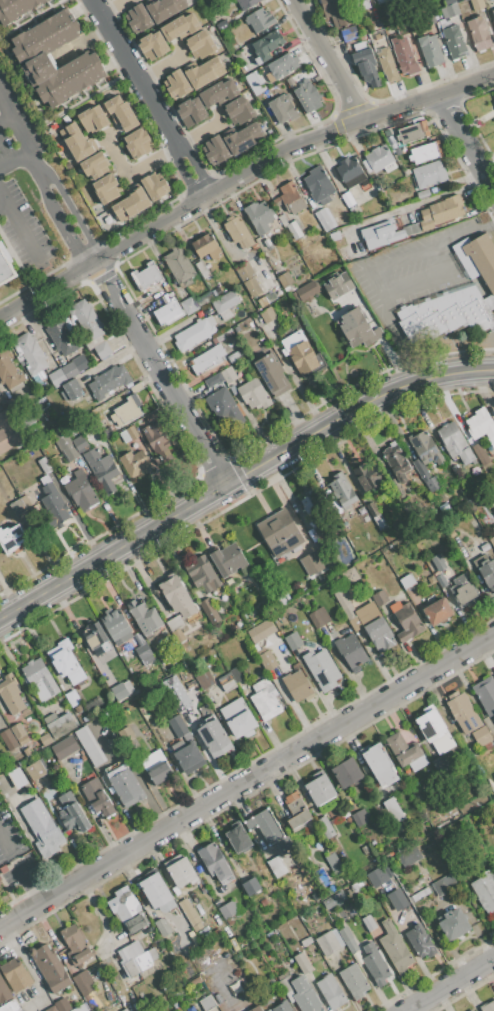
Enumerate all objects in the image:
building: (460, 0)
building: (380, 1)
building: (448, 2)
building: (245, 3)
building: (360, 4)
building: (477, 4)
building: (16, 8)
road: (117, 8)
building: (165, 9)
building: (335, 13)
building: (492, 13)
road: (32, 18)
building: (138, 18)
building: (430, 18)
building: (259, 20)
building: (493, 24)
building: (221, 25)
building: (452, 33)
building: (348, 34)
building: (479, 34)
building: (199, 35)
building: (378, 37)
building: (232, 42)
building: (267, 45)
building: (153, 46)
building: (430, 50)
building: (403, 55)
building: (33, 58)
road: (331, 60)
building: (365, 63)
building: (387, 64)
building: (283, 65)
road: (161, 68)
building: (205, 72)
road: (136, 73)
building: (176, 84)
building: (253, 84)
building: (307, 96)
building: (228, 101)
building: (493, 102)
road: (430, 103)
building: (283, 108)
building: (191, 111)
building: (121, 113)
road: (48, 117)
road: (4, 118)
building: (93, 120)
building: (262, 124)
road: (15, 125)
building: (265, 129)
building: (413, 132)
road: (202, 134)
building: (242, 139)
building: (76, 142)
building: (138, 143)
road: (469, 144)
building: (398, 149)
building: (215, 150)
building: (425, 152)
road: (284, 153)
road: (15, 159)
building: (378, 160)
building: (94, 166)
building: (348, 169)
road: (137, 171)
road: (194, 172)
road: (184, 174)
building: (429, 174)
road: (37, 183)
building: (317, 184)
building: (154, 186)
building: (365, 186)
building: (107, 188)
building: (433, 191)
parking lot: (36, 194)
building: (422, 194)
building: (89, 197)
building: (289, 198)
building: (348, 201)
road: (66, 203)
road: (2, 205)
building: (131, 205)
building: (410, 205)
building: (441, 212)
building: (258, 216)
building: (107, 219)
building: (282, 220)
building: (323, 220)
building: (403, 221)
road: (153, 227)
road: (19, 228)
building: (411, 228)
building: (294, 230)
building: (237, 232)
building: (380, 235)
road: (68, 238)
building: (267, 244)
building: (206, 246)
building: (358, 246)
building: (476, 259)
road: (91, 262)
road: (106, 263)
building: (178, 265)
road: (374, 266)
building: (202, 269)
building: (4, 271)
building: (146, 275)
building: (248, 278)
building: (284, 279)
road: (424, 279)
building: (337, 286)
road: (42, 290)
building: (307, 291)
building: (225, 301)
building: (263, 302)
building: (189, 305)
building: (308, 307)
building: (167, 309)
building: (446, 313)
building: (267, 314)
building: (87, 320)
building: (357, 328)
building: (195, 334)
building: (61, 335)
building: (102, 350)
building: (30, 353)
building: (302, 354)
building: (208, 359)
building: (80, 363)
building: (9, 368)
building: (68, 371)
building: (272, 374)
building: (56, 378)
road: (163, 380)
building: (108, 381)
building: (209, 382)
building: (73, 389)
building: (206, 392)
building: (253, 394)
building: (224, 408)
building: (127, 411)
building: (153, 416)
building: (480, 425)
building: (8, 432)
building: (128, 434)
building: (157, 439)
building: (455, 442)
building: (80, 443)
building: (64, 444)
building: (424, 447)
building: (480, 454)
building: (396, 461)
building: (134, 464)
building: (44, 466)
building: (101, 469)
road: (240, 475)
building: (425, 476)
building: (366, 477)
building: (80, 491)
building: (341, 491)
building: (53, 503)
building: (17, 506)
building: (361, 510)
building: (366, 518)
building: (280, 532)
building: (12, 539)
building: (492, 541)
building: (228, 559)
building: (311, 563)
building: (487, 572)
building: (203, 574)
building: (352, 574)
building: (407, 581)
building: (174, 592)
building: (466, 595)
building: (398, 596)
building: (379, 598)
building: (209, 611)
building: (437, 611)
building: (144, 616)
building: (322, 616)
building: (408, 622)
building: (117, 625)
building: (175, 625)
building: (373, 626)
building: (333, 627)
building: (261, 630)
building: (95, 636)
building: (138, 639)
building: (293, 640)
building: (350, 652)
building: (144, 654)
building: (282, 655)
building: (267, 660)
building: (66, 662)
building: (321, 669)
building: (236, 673)
building: (39, 679)
building: (204, 680)
building: (226, 682)
building: (298, 686)
building: (122, 689)
building: (10, 693)
building: (176, 693)
building: (485, 694)
building: (72, 698)
building: (264, 699)
building: (93, 705)
building: (77, 709)
building: (463, 712)
building: (239, 719)
building: (58, 724)
building: (177, 726)
building: (18, 730)
building: (435, 731)
building: (481, 735)
building: (214, 738)
building: (9, 739)
building: (45, 739)
building: (89, 745)
building: (64, 747)
building: (402, 750)
building: (189, 758)
building: (380, 765)
building: (156, 767)
building: (35, 770)
building: (348, 772)
building: (493, 775)
building: (18, 780)
road: (247, 781)
building: (125, 785)
building: (320, 789)
building: (97, 797)
building: (295, 810)
building: (393, 810)
building: (71, 814)
building: (360, 817)
building: (265, 826)
building: (325, 827)
building: (42, 828)
building: (238, 839)
road: (6, 840)
building: (409, 856)
building: (332, 859)
building: (214, 862)
building: (277, 866)
building: (182, 872)
building: (379, 875)
road: (27, 877)
building: (0, 879)
building: (0, 884)
building: (442, 885)
building: (0, 886)
building: (251, 886)
building: (155, 890)
building: (175, 891)
building: (485, 891)
building: (420, 894)
building: (191, 898)
building: (396, 899)
building: (264, 902)
building: (329, 903)
building: (228, 909)
building: (128, 910)
building: (188, 912)
building: (368, 923)
building: (453, 924)
building: (162, 926)
building: (197, 927)
building: (337, 937)
building: (348, 939)
building: (306, 941)
building: (420, 941)
building: (327, 943)
building: (75, 945)
building: (395, 947)
building: (136, 958)
building: (303, 963)
building: (374, 964)
building: (50, 968)
building: (15, 974)
building: (354, 981)
building: (195, 982)
building: (83, 983)
road: (447, 983)
building: (286, 984)
building: (236, 987)
building: (331, 991)
building: (4, 992)
building: (304, 995)
building: (217, 996)
building: (207, 1003)
building: (10, 1006)
building: (282, 1006)
building: (488, 1006)
building: (81, 1008)
building: (190, 1008)
building: (51, 1009)
building: (256, 1009)
building: (19, 1010)
building: (125, 1010)
building: (472, 1010)

